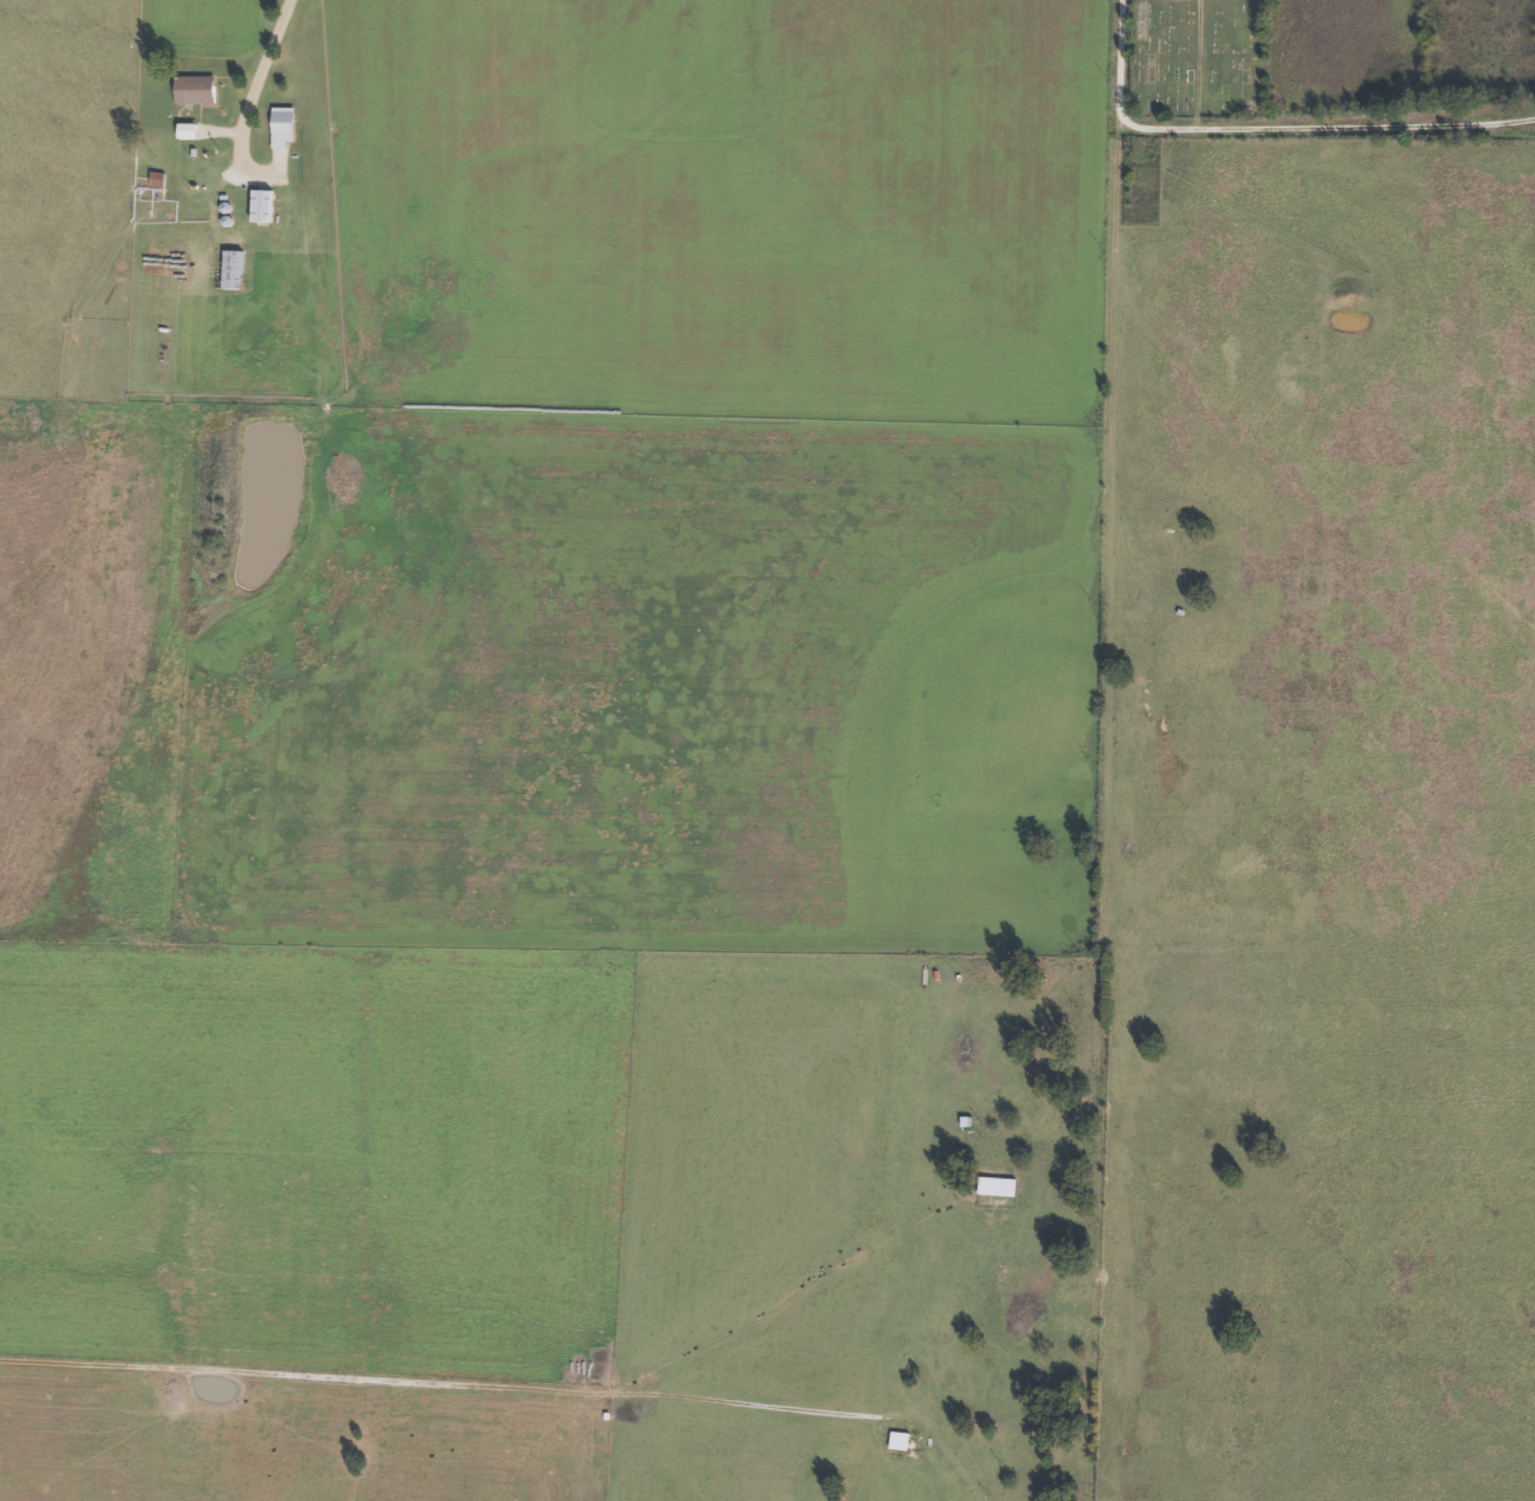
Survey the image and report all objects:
park: (1198, 58)
road: (260, 64)
building: (196, 89)
building: (284, 126)
road: (1258, 129)
building: (189, 130)
building: (264, 205)
building: (234, 268)

